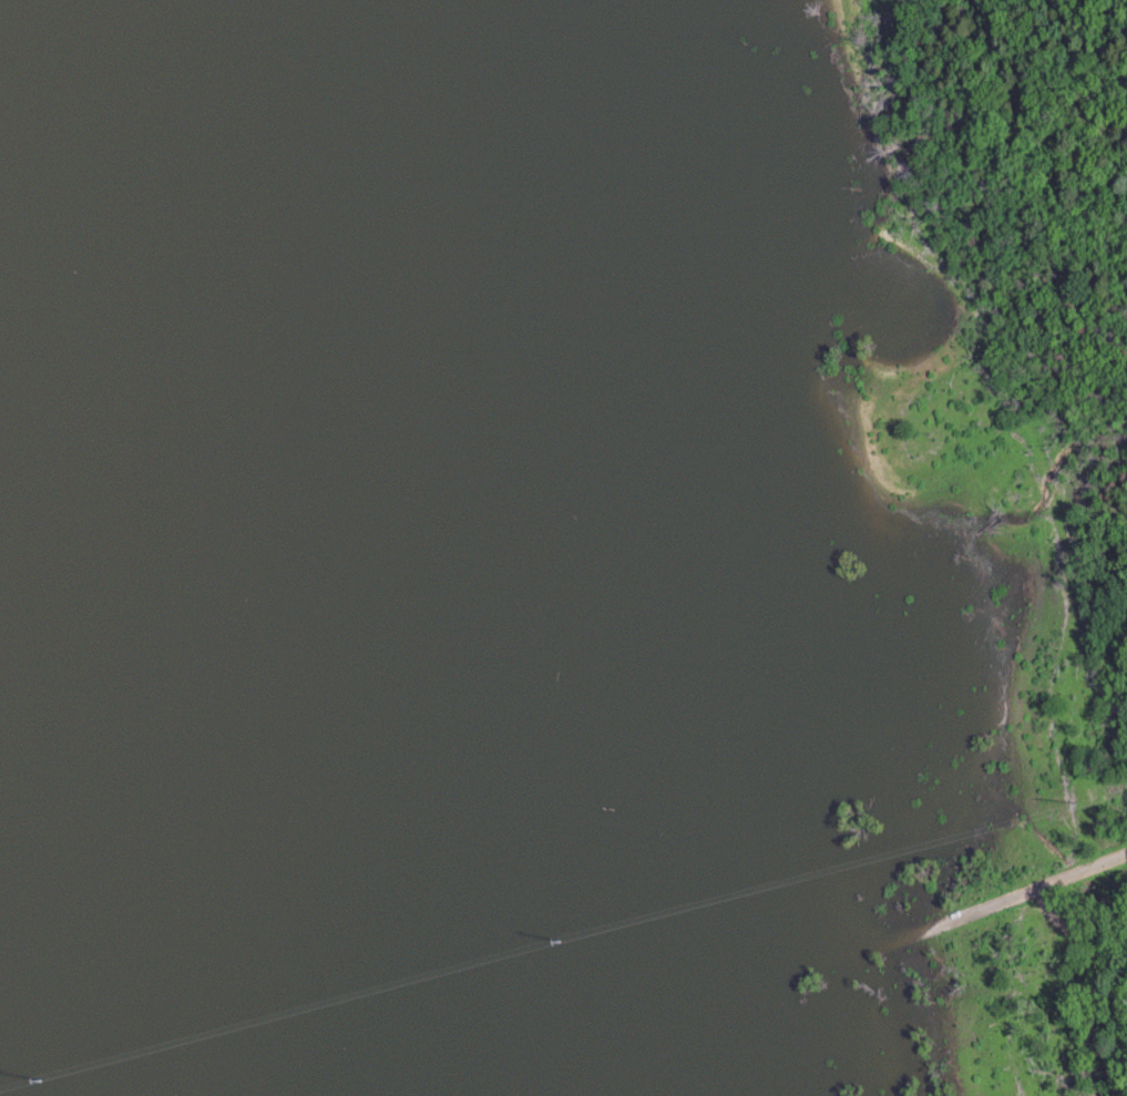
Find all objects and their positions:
road: (993, 902)

